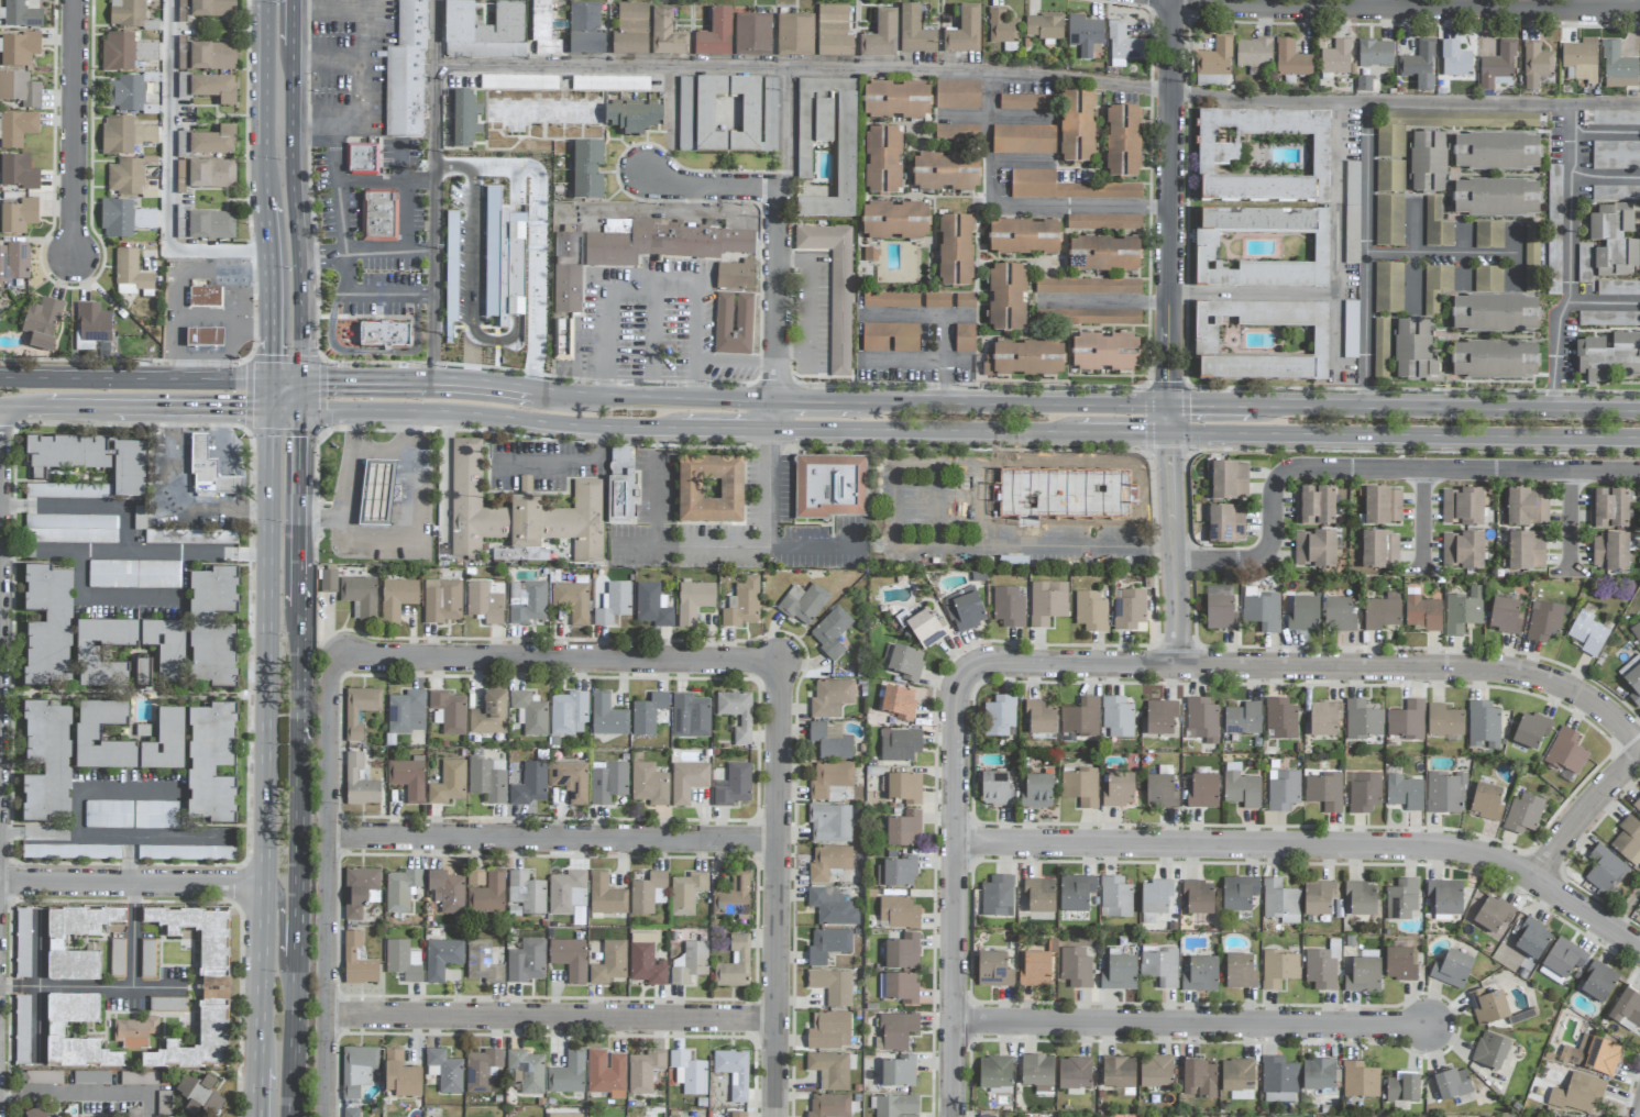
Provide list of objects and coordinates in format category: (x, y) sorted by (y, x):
road: (329, 3)
road: (367, 4)
road: (1639, 5)
building: (209, 8)
road: (1417, 8)
building: (126, 13)
building: (19, 14)
building: (632, 18)
building: (833, 20)
building: (1044, 26)
road: (291, 29)
building: (585, 29)
building: (542, 30)
building: (1002, 30)
building: (484, 32)
building: (915, 32)
building: (964, 32)
building: (667, 34)
building: (715, 34)
building: (752, 35)
building: (794, 35)
building: (1085, 35)
building: (881, 36)
building: (629, 44)
building: (835, 46)
building: (1123, 46)
building: (19, 49)
building: (1254, 54)
building: (1375, 54)
building: (206, 56)
road: (326, 58)
building: (1215, 58)
building: (1336, 58)
building: (1291, 59)
building: (1455, 59)
building: (1581, 60)
building: (1419, 65)
building: (1536, 65)
road: (360, 66)
building: (1498, 66)
building: (1618, 67)
building: (406, 71)
road: (1041, 77)
building: (1212, 81)
building: (214, 89)
building: (20, 90)
road: (988, 92)
building: (125, 93)
building: (957, 95)
building: (896, 100)
road: (265, 102)
building: (1026, 102)
building: (695, 114)
building: (770, 114)
building: (542, 115)
building: (634, 117)
building: (1610, 118)
building: (463, 119)
building: (1463, 120)
building: (823, 121)
building: (1077, 125)
building: (16, 129)
road: (792, 129)
road: (75, 130)
building: (957, 132)
building: (124, 135)
building: (1023, 140)
building: (213, 142)
building: (1123, 142)
building: (1390, 142)
building: (846, 146)
building: (1497, 152)
building: (803, 154)
building: (1616, 155)
building: (1264, 156)
building: (362, 159)
building: (882, 161)
building: (1428, 162)
building: (586, 169)
building: (946, 172)
building: (18, 173)
building: (207, 174)
road: (1604, 174)
road: (168, 175)
building: (128, 176)
building: (1390, 176)
road: (386, 180)
road: (337, 188)
road: (437, 188)
road: (712, 188)
road: (785, 188)
building: (1065, 188)
building: (1496, 198)
road: (1170, 202)
road: (1034, 206)
building: (1352, 212)
road: (404, 214)
building: (377, 215)
building: (18, 217)
road: (295, 218)
building: (123, 219)
building: (894, 221)
building: (1389, 221)
building: (1103, 222)
building: (211, 225)
building: (1437, 225)
building: (1553, 230)
building: (1488, 235)
building: (1024, 237)
building: (1614, 239)
building: (660, 242)
building: (1263, 248)
road: (366, 251)
building: (955, 251)
road: (1442, 252)
building: (1104, 254)
building: (507, 255)
road: (1367, 256)
building: (1531, 257)
road: (1569, 258)
building: (13, 263)
building: (1584, 263)
building: (451, 267)
building: (566, 270)
building: (130, 274)
building: (736, 276)
building: (1488, 279)
road: (1335, 280)
building: (1088, 286)
building: (1435, 287)
building: (834, 288)
building: (1388, 288)
building: (1618, 288)
road: (653, 289)
road: (268, 291)
road: (372, 292)
building: (205, 295)
gas station: (205, 295)
road: (778, 295)
building: (1006, 298)
building: (890, 300)
building: (965, 300)
road: (1104, 300)
road: (1599, 300)
road: (178, 301)
building: (936, 301)
road: (250, 305)
road: (811, 305)
building: (1495, 313)
road: (945, 314)
building: (1087, 317)
road: (241, 319)
building: (1608, 319)
building: (42, 323)
building: (92, 323)
building: (733, 323)
building: (1351, 330)
road: (651, 332)
road: (1335, 332)
building: (383, 334)
building: (203, 338)
gas station: (203, 338)
building: (890, 338)
building: (965, 339)
building: (562, 340)
building: (1262, 341)
building: (1413, 349)
building: (1380, 350)
building: (1104, 353)
building: (1608, 357)
traffic signals: (267, 360)
building: (1024, 360)
building: (1495, 360)
road: (122, 361)
road: (876, 361)
traffic signals: (328, 377)
road: (438, 377)
road: (132, 378)
road: (283, 378)
road: (300, 392)
road: (265, 394)
road: (674, 398)
road: (825, 402)
road: (1022, 405)
road: (132, 406)
road: (1217, 407)
traffic signals: (245, 408)
road: (282, 408)
road: (1314, 408)
road: (1503, 409)
road: (488, 413)
road: (775, 416)
road: (1170, 420)
road: (131, 424)
road: (726, 429)
road: (924, 431)
road: (1122, 433)
road: (0, 434)
traffic signals: (298, 434)
road: (1405, 436)
road: (563, 458)
building: (90, 460)
road: (1374, 468)
gas station: (208, 471)
building: (209, 473)
building: (1229, 480)
road: (345, 484)
building: (525, 485)
building: (620, 485)
building: (829, 486)
road: (298, 489)
building: (709, 489)
building: (68, 491)
gas station: (377, 493)
building: (376, 494)
building: (1064, 495)
road: (179, 496)
building: (466, 501)
building: (1314, 506)
building: (1383, 506)
building: (1462, 507)
building: (1527, 508)
building: (1608, 509)
road: (414, 519)
road: (1422, 519)
road: (1569, 520)
building: (580, 521)
building: (1225, 524)
road: (125, 528)
building: (71, 529)
road: (774, 531)
building: (181, 533)
road: (909, 542)
road: (637, 545)
road: (671, 545)
road: (194, 549)
road: (1177, 549)
building: (1314, 549)
building: (1379, 550)
building: (1463, 551)
building: (1526, 551)
building: (1610, 552)
building: (134, 574)
building: (328, 582)
road: (297, 590)
building: (361, 594)
road: (104, 596)
building: (397, 598)
building: (442, 600)
building: (572, 601)
building: (693, 601)
building: (1047, 602)
building: (484, 604)
building: (614, 604)
building: (804, 604)
building: (529, 605)
building: (652, 605)
building: (742, 605)
building: (1009, 608)
building: (965, 609)
building: (1129, 609)
building: (1090, 611)
building: (1262, 611)
building: (1463, 611)
building: (1220, 612)
building: (1382, 612)
building: (1303, 613)
building: (1422, 613)
building: (1339, 615)
building: (1505, 616)
building: (1544, 622)
building: (47, 626)
building: (212, 627)
building: (925, 628)
building: (1636, 630)
building: (830, 632)
building: (1587, 633)
building: (166, 646)
building: (88, 654)
road: (559, 660)
building: (905, 663)
road: (1311, 666)
building: (142, 674)
road: (297, 675)
building: (1632, 678)
building: (830, 698)
building: (899, 703)
building: (359, 706)
building: (404, 708)
building: (449, 711)
building: (530, 712)
building: (489, 714)
building: (569, 714)
building: (648, 714)
building: (736, 714)
building: (690, 716)
building: (999, 716)
building: (607, 717)
building: (1041, 717)
building: (1118, 717)
building: (1160, 717)
building: (1080, 718)
building: (1324, 718)
building: (1243, 719)
building: (1281, 719)
building: (1201, 720)
building: (1362, 721)
building: (1407, 721)
building: (1444, 721)
building: (1483, 726)
building: (1531, 731)
building: (88, 734)
road: (262, 738)
building: (828, 741)
building: (165, 742)
building: (900, 745)
building: (1565, 752)
building: (46, 761)
building: (211, 763)
building: (408, 777)
building: (487, 779)
building: (570, 781)
building: (687, 781)
building: (829, 781)
building: (607, 782)
building: (359, 783)
building: (449, 783)
building: (529, 784)
building: (649, 784)
building: (734, 786)
building: (1080, 787)
building: (904, 788)
building: (995, 789)
building: (1160, 789)
building: (1241, 789)
road: (108, 790)
building: (1038, 790)
building: (1119, 790)
building: (1283, 790)
building: (1203, 792)
building: (1324, 792)
building: (1364, 793)
building: (1405, 793)
building: (1445, 793)
building: (1486, 801)
building: (1637, 806)
building: (109, 814)
building: (1523, 814)
building: (156, 815)
road: (1584, 816)
building: (829, 825)
building: (904, 830)
road: (113, 832)
road: (555, 839)
building: (1628, 840)
road: (1311, 848)
building: (70, 852)
building: (185, 853)
building: (828, 862)
building: (1604, 871)
building: (896, 872)
road: (129, 884)
road: (329, 888)
building: (401, 889)
road: (275, 891)
building: (359, 891)
building: (485, 891)
building: (447, 892)
building: (566, 892)
building: (526, 893)
building: (648, 893)
building: (686, 893)
road: (780, 893)
building: (1076, 893)
building: (1239, 894)
building: (605, 895)
building: (1039, 895)
road: (958, 896)
building: (998, 897)
building: (1115, 897)
building: (1198, 897)
building: (1318, 897)
building: (1445, 897)
building: (1361, 898)
building: (734, 899)
building: (1154, 899)
building: (1401, 899)
building: (1280, 902)
building: (832, 907)
road: (1626, 911)
building: (899, 913)
building: (1493, 915)
road: (298, 930)
building: (1531, 940)
building: (23, 942)
building: (55, 943)
building: (201, 943)
building: (827, 945)
building: (903, 952)
road: (282, 956)
building: (115, 958)
building: (146, 959)
building: (441, 959)
building: (569, 959)
building: (646, 960)
building: (357, 961)
building: (403, 961)
building: (527, 961)
building: (1562, 961)
building: (482, 962)
building: (609, 963)
building: (691, 963)
building: (735, 964)
building: (1399, 964)
building: (1160, 965)
building: (1076, 967)
building: (1035, 969)
building: (1278, 969)
building: (1321, 969)
building: (994, 970)
building: (1452, 970)
building: (1241, 972)
building: (1119, 973)
building: (1201, 974)
building: (1363, 975)
road: (131, 982)
building: (1598, 982)
building: (832, 985)
road: (19, 986)
building: (899, 987)
building: (164, 1005)
building: (1488, 1006)
building: (1627, 1010)
road: (554, 1018)
building: (212, 1019)
road: (1206, 1025)
building: (22, 1029)
building: (55, 1030)
building: (898, 1030)
building: (829, 1031)
building: (134, 1032)
building: (1490, 1051)
building: (1593, 1055)
building: (357, 1066)
building: (832, 1069)
building: (445, 1070)
building: (481, 1070)
building: (527, 1070)
building: (645, 1071)
building: (734, 1072)
building: (899, 1072)
building: (1119, 1072)
building: (1156, 1072)
building: (606, 1073)
building: (689, 1073)
building: (994, 1073)
building: (1075, 1073)
building: (568, 1074)
building: (400, 1075)
building: (1318, 1075)
building: (1278, 1077)
building: (1237, 1079)
building: (1199, 1080)
building: (1360, 1080)
building: (1452, 1084)
building: (1404, 1087)
road: (252, 1093)
building: (1578, 1093)
road: (86, 1094)
building: (199, 1095)
building: (829, 1105)
building: (894, 1106)
building: (351, 1110)
building: (35, 1112)
building: (133, 1113)
building: (738, 1114)
building: (564, 1115)
building: (58, 1116)
building: (986, 1116)

